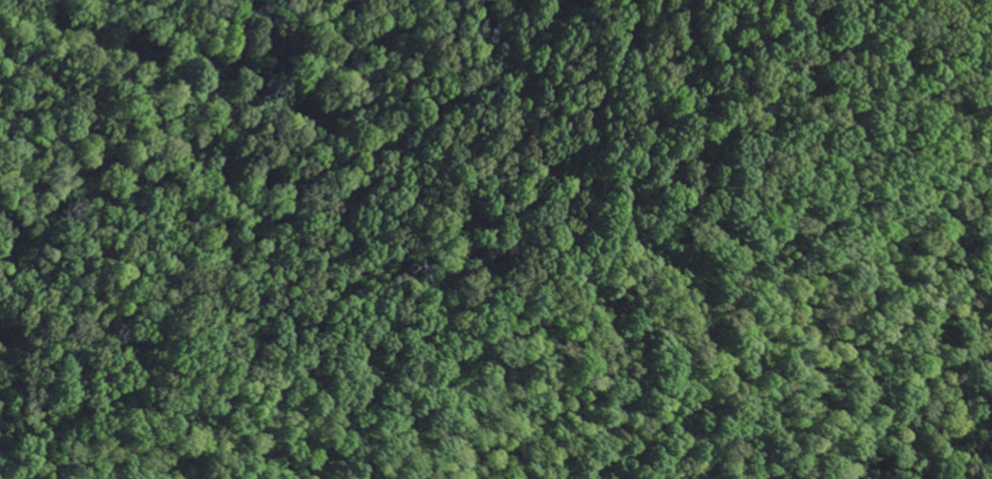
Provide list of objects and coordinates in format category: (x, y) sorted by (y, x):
road: (113, 100)

